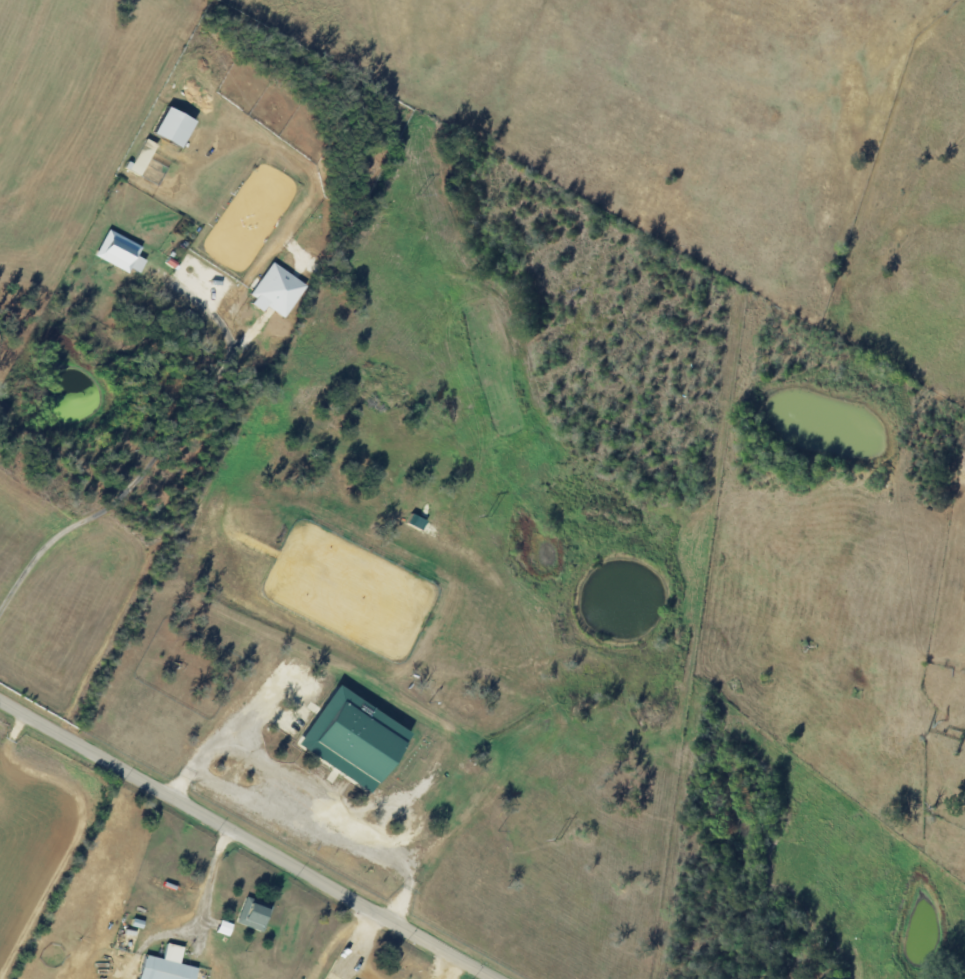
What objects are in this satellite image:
building: (169, 126)
building: (140, 155)
power tower: (422, 194)
building: (117, 251)
building: (273, 290)
road: (164, 448)
power tower: (489, 516)
building: (347, 736)
road: (246, 839)
power tower: (558, 841)
road: (207, 884)
building: (165, 886)
building: (253, 912)
building: (163, 965)

